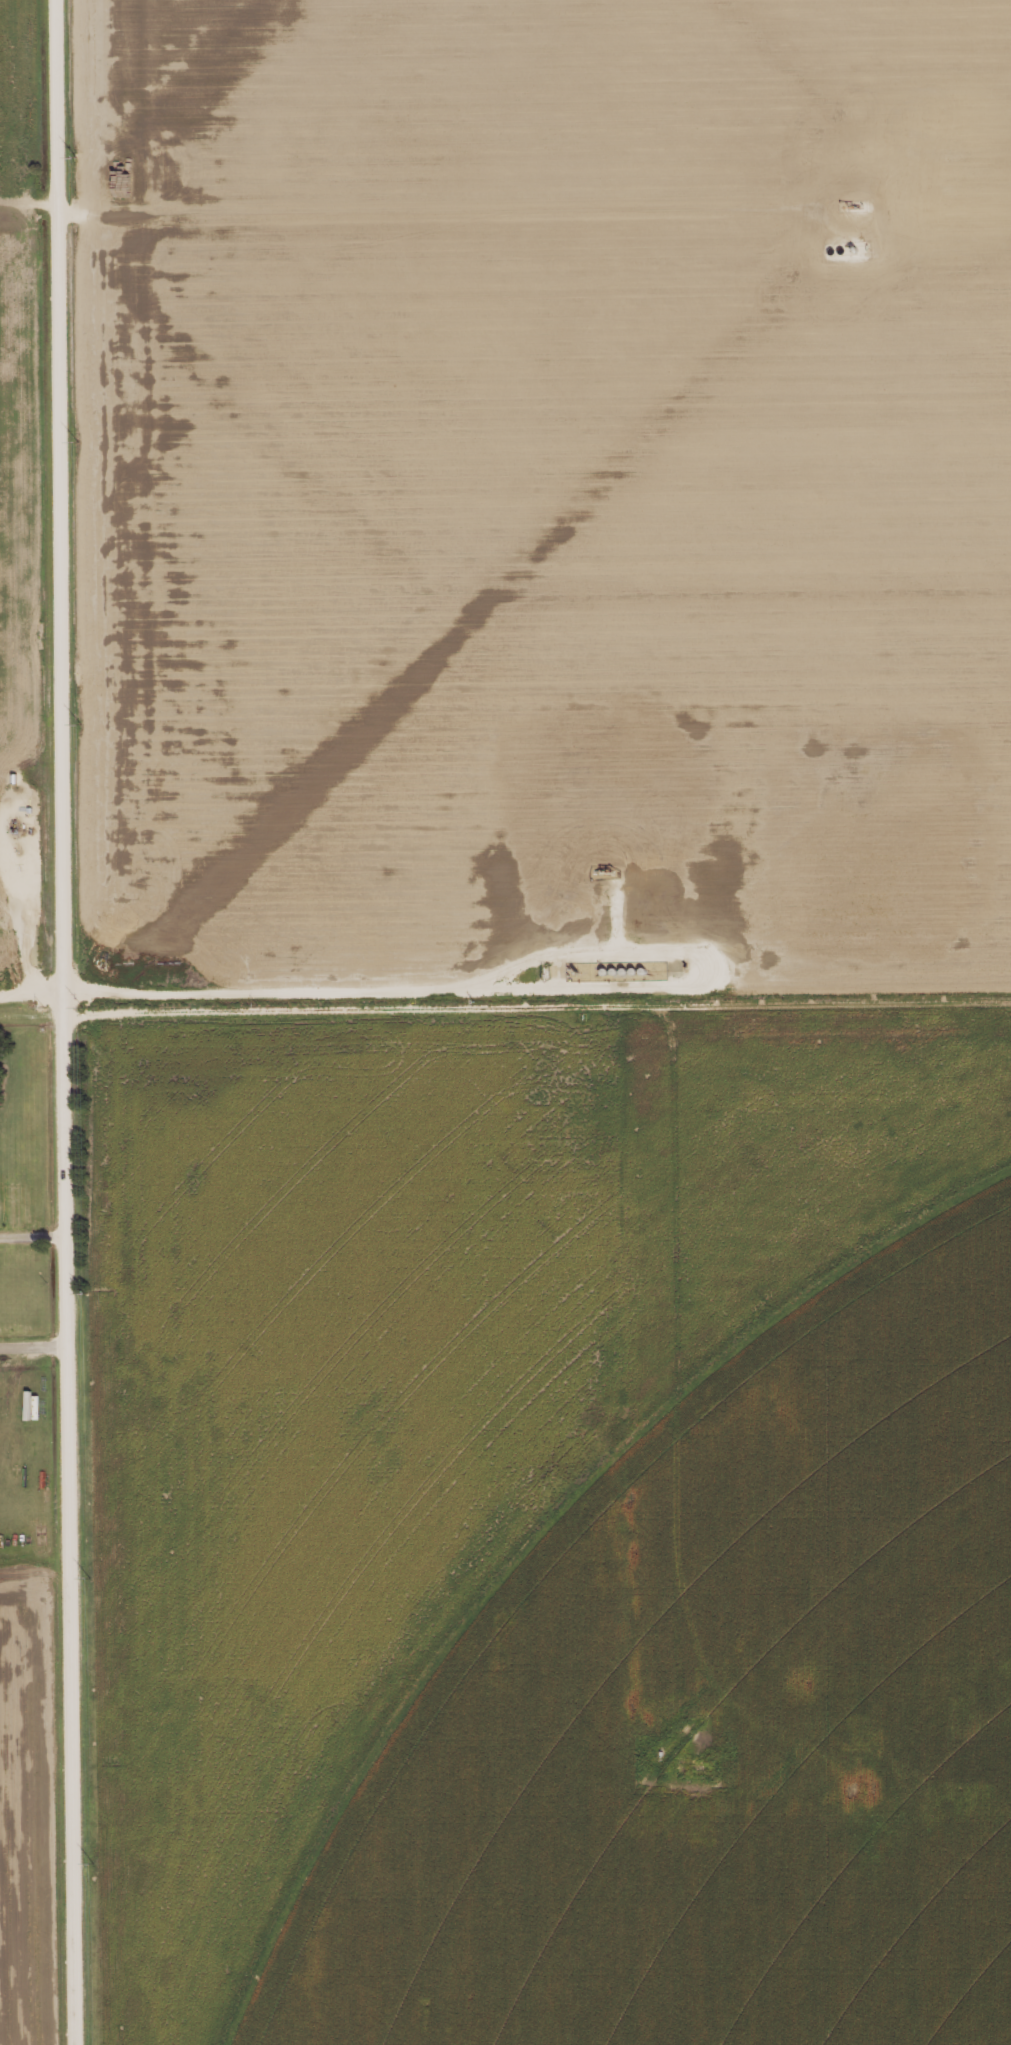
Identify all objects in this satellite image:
road: (66, 1022)
road: (33, 1116)

